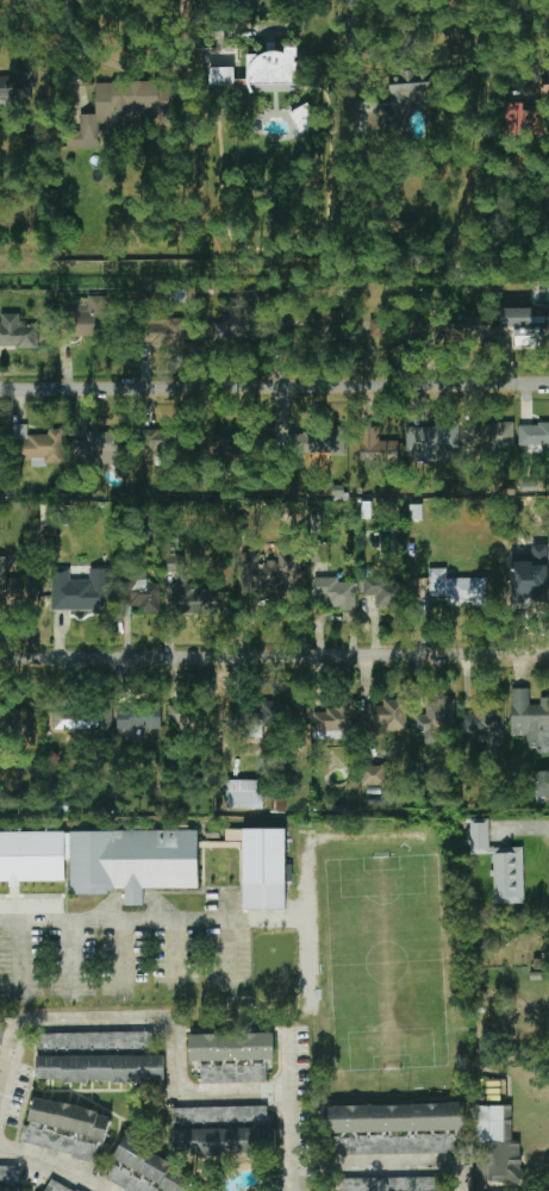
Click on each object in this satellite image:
road: (252, 30)
road: (350, 63)
road: (130, 66)
building: (272, 70)
building: (222, 76)
building: (544, 81)
building: (11, 87)
building: (120, 110)
building: (305, 117)
building: (522, 118)
building: (93, 316)
building: (329, 322)
building: (297, 323)
building: (242, 324)
building: (470, 325)
building: (526, 326)
building: (380, 329)
building: (17, 332)
building: (166, 332)
road: (274, 388)
building: (20, 431)
building: (534, 434)
building: (487, 435)
building: (317, 442)
building: (431, 442)
building: (162, 443)
building: (378, 447)
building: (98, 448)
building: (223, 448)
building: (45, 449)
building: (528, 568)
building: (266, 572)
building: (14, 587)
building: (455, 588)
building: (81, 591)
building: (189, 591)
building: (385, 592)
building: (335, 593)
building: (144, 595)
road: (274, 656)
building: (386, 716)
building: (435, 716)
building: (138, 717)
building: (186, 717)
building: (268, 717)
building: (530, 718)
building: (83, 719)
building: (486, 719)
building: (336, 722)
building: (14, 724)
building: (374, 775)
building: (542, 787)
building: (244, 794)
road: (539, 824)
building: (102, 860)
building: (500, 865)
building: (263, 868)
road: (227, 906)
road: (142, 919)
road: (142, 1021)
building: (0, 1036)
building: (94, 1041)
building: (232, 1056)
building: (100, 1068)
road: (291, 1114)
building: (219, 1115)
building: (69, 1117)
building: (395, 1128)
building: (60, 1141)
building: (224, 1141)
building: (497, 1145)
road: (52, 1165)
road: (387, 1165)
building: (145, 1171)
building: (8, 1172)
building: (394, 1184)
building: (56, 1186)
building: (8, 1189)

